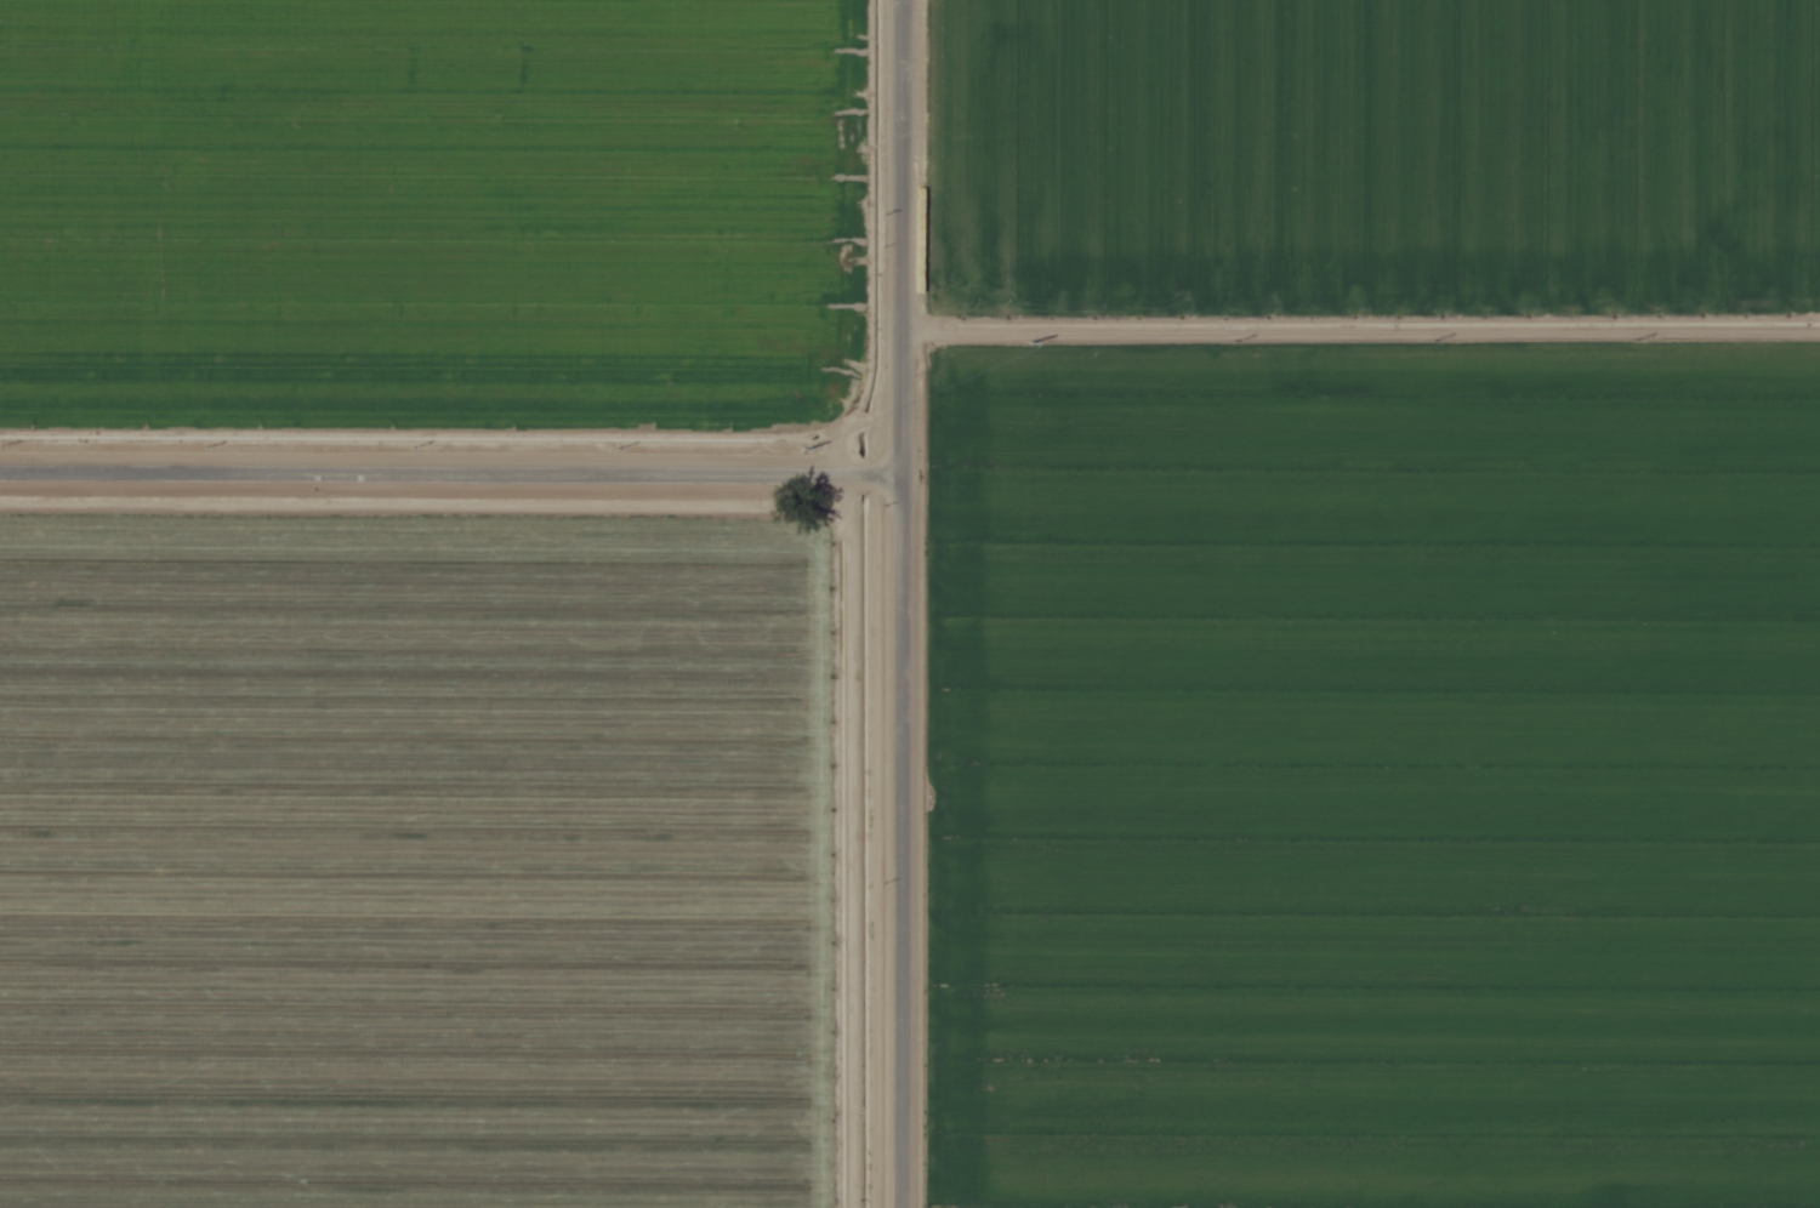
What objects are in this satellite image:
road: (462, 480)
road: (923, 604)

